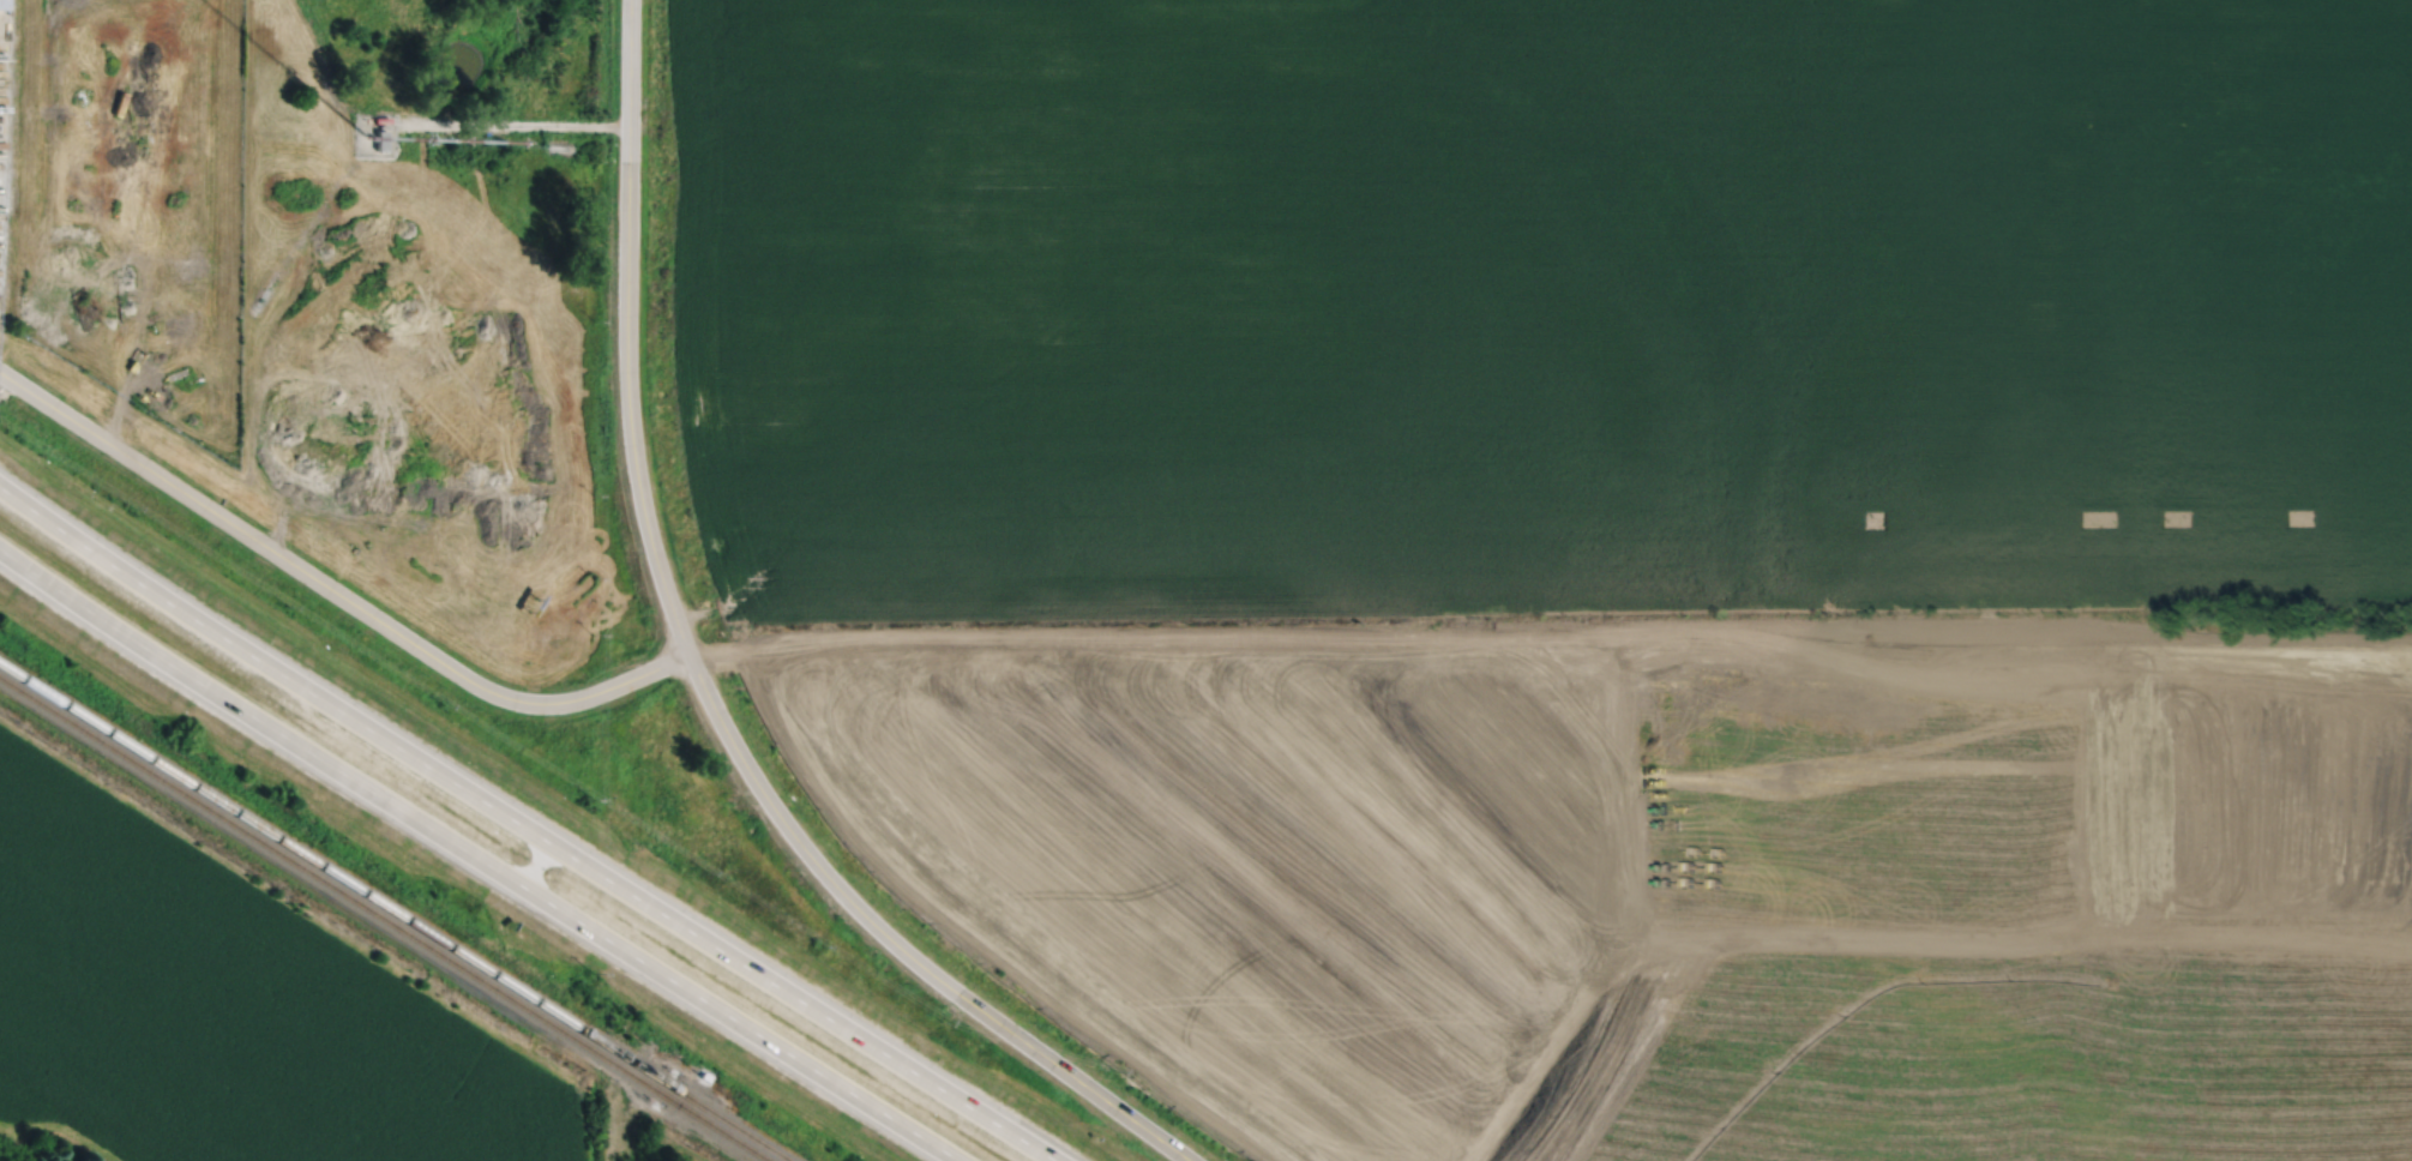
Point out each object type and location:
building: (2, 6)
road: (511, 127)
building: (380, 140)
building: (173, 319)
building: (181, 326)
road: (626, 330)
building: (533, 601)
road: (657, 667)
road: (525, 828)
road: (477, 858)
railway: (393, 912)
railway: (384, 920)

